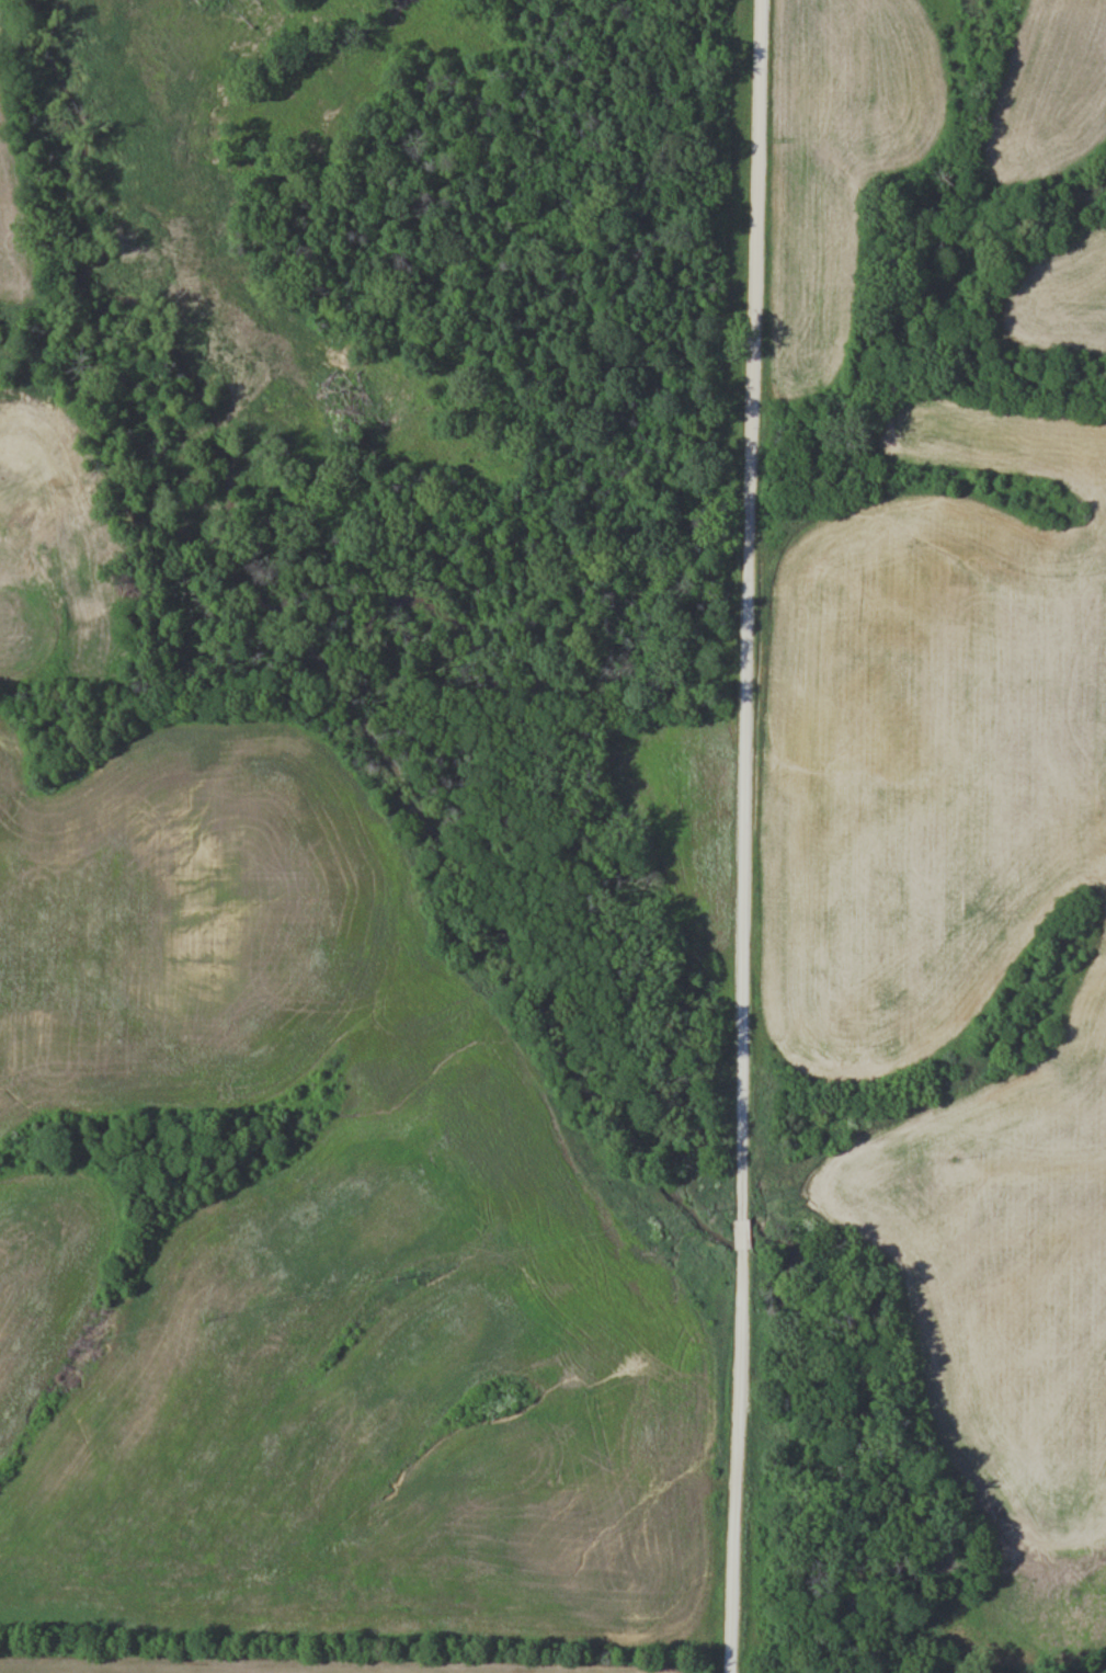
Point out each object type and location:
road: (743, 836)

